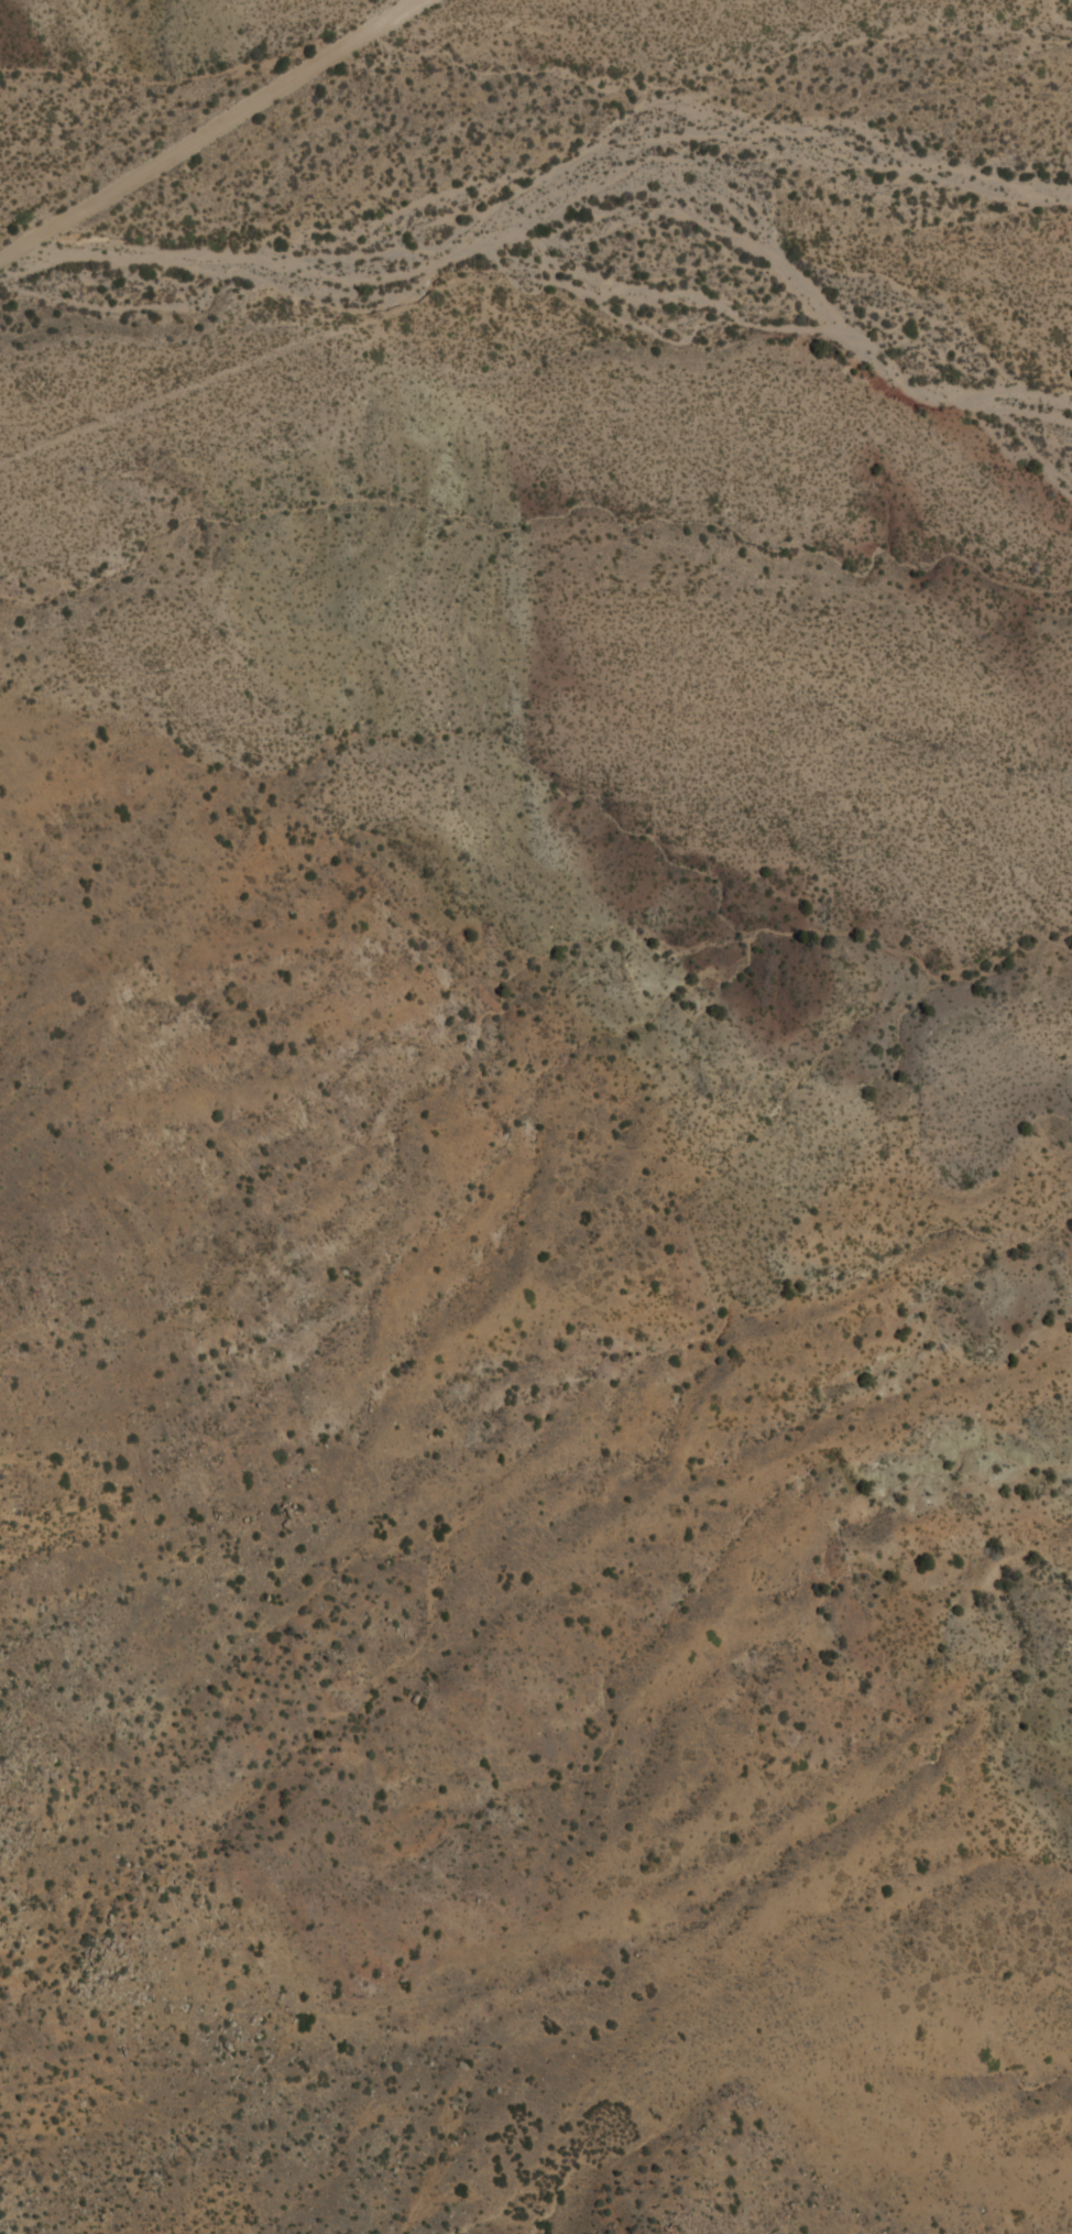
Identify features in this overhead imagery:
road: (1051, 19)
road: (211, 130)

